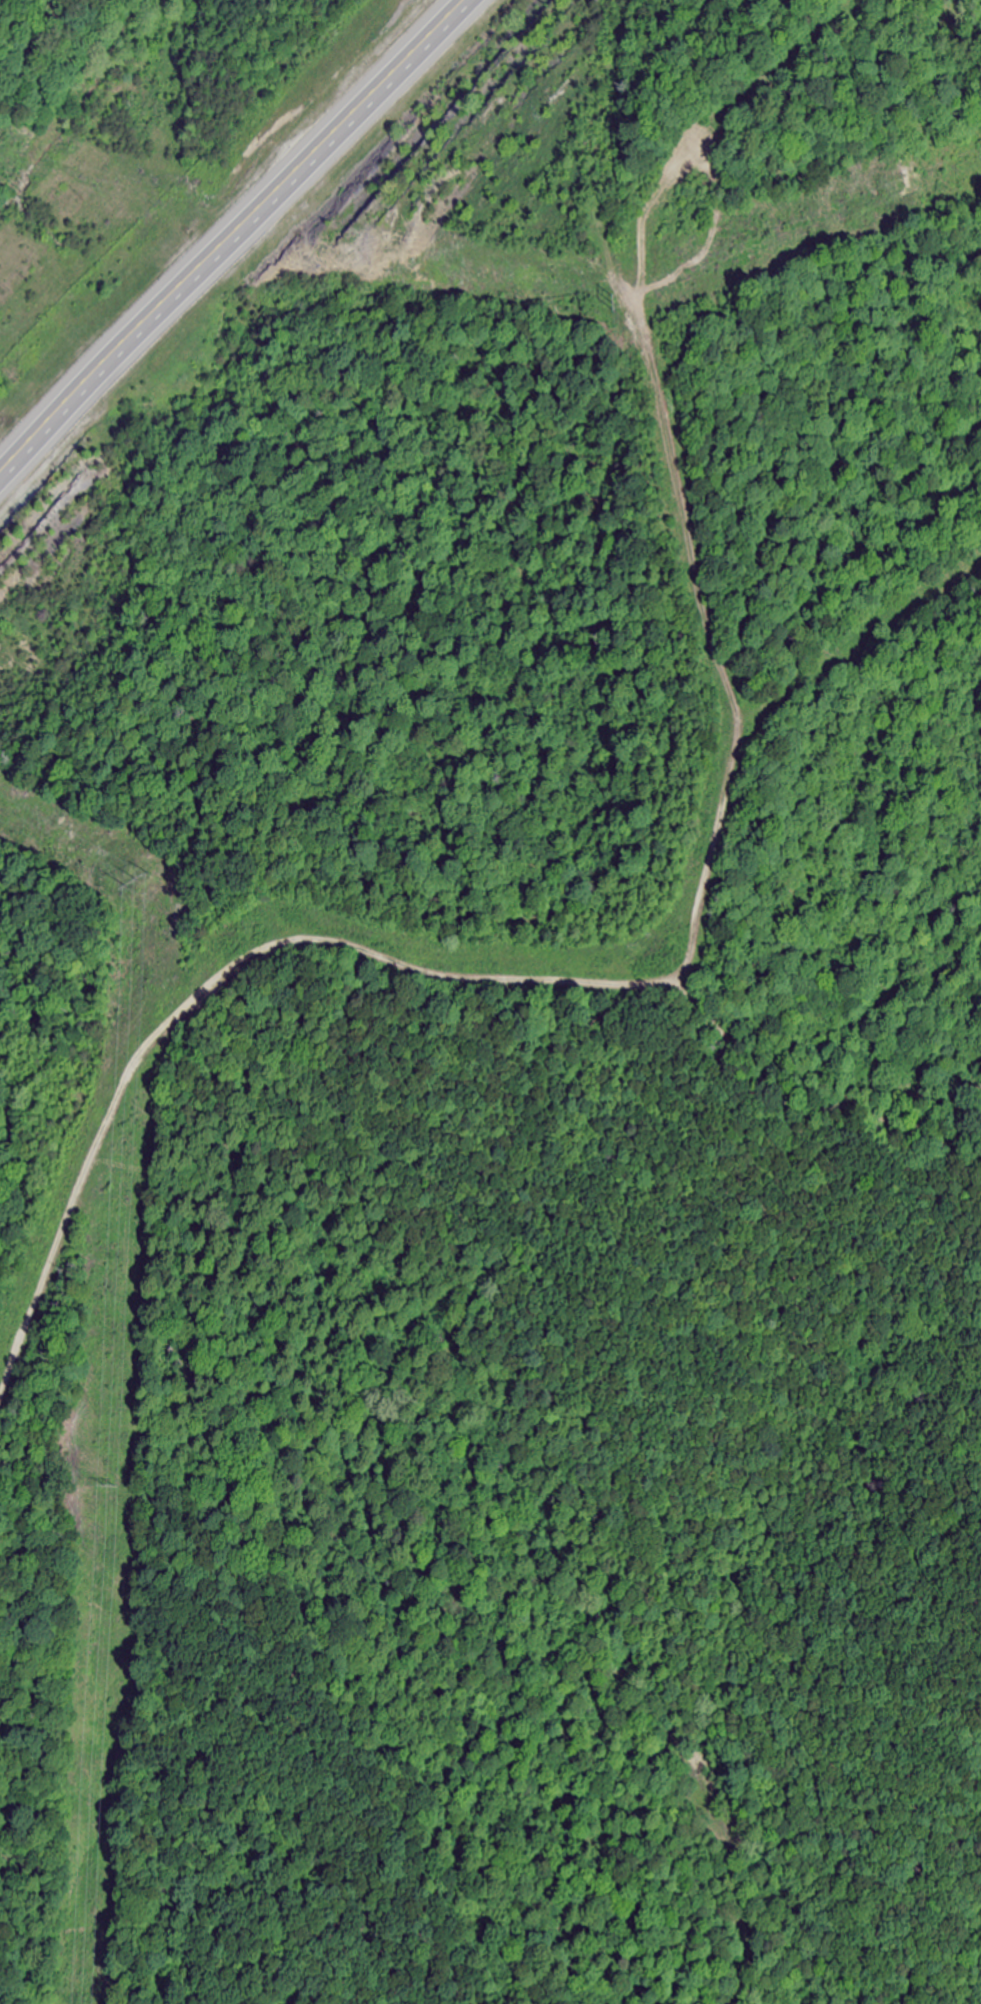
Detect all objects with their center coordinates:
road: (85, 112)
road: (234, 236)

